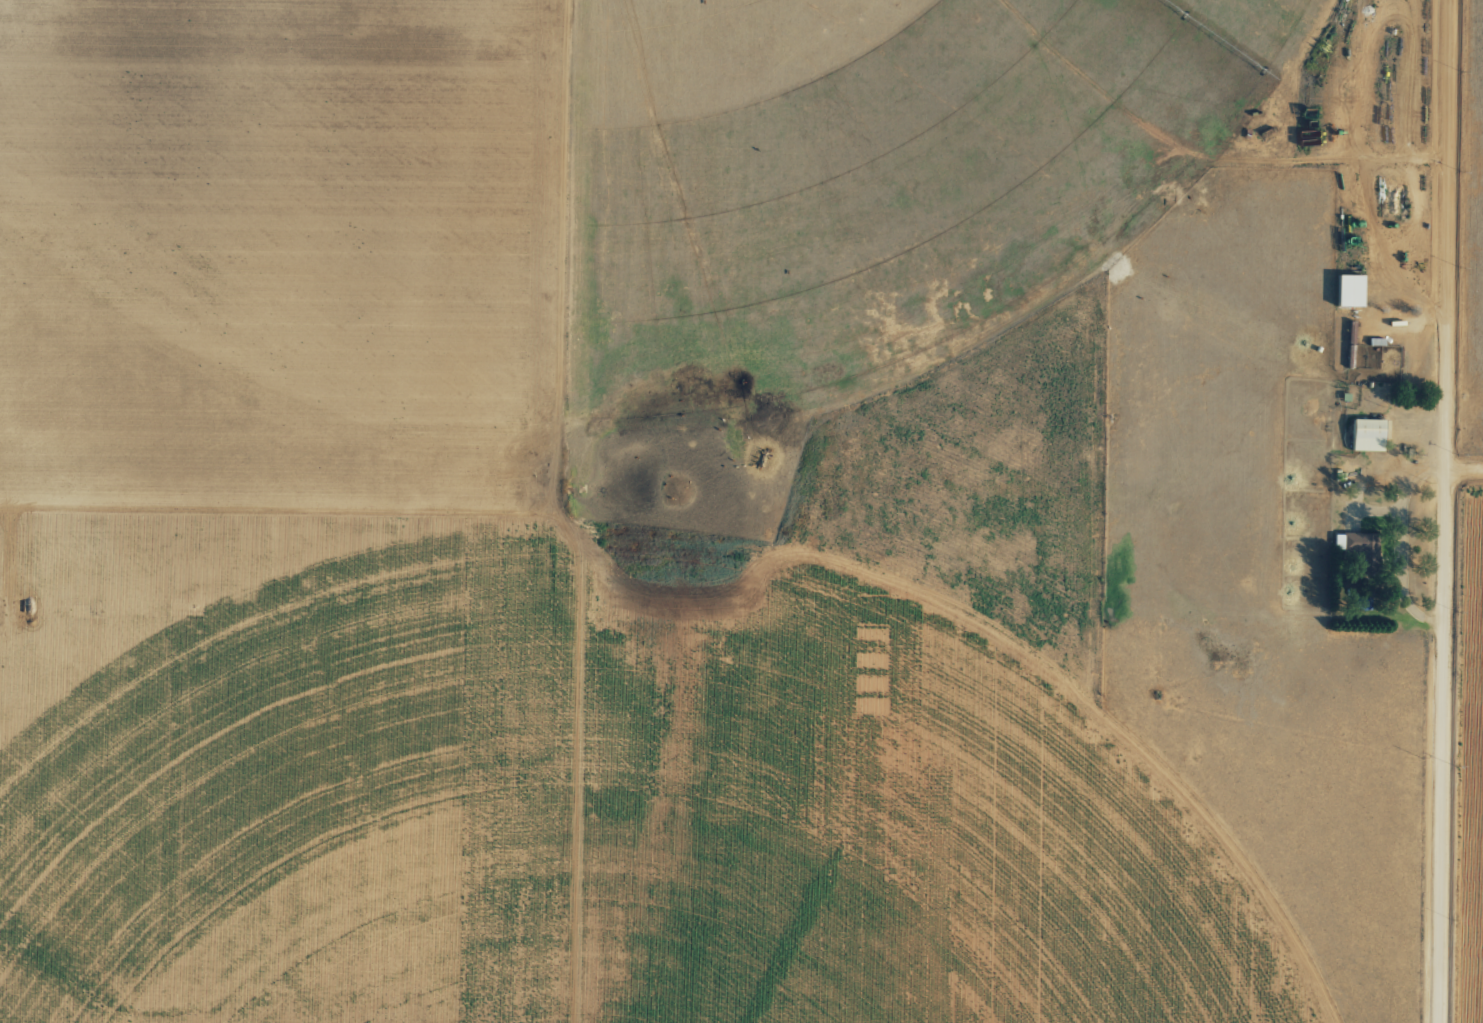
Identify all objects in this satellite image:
building: (1369, 434)
road: (1465, 486)
road: (1445, 511)

